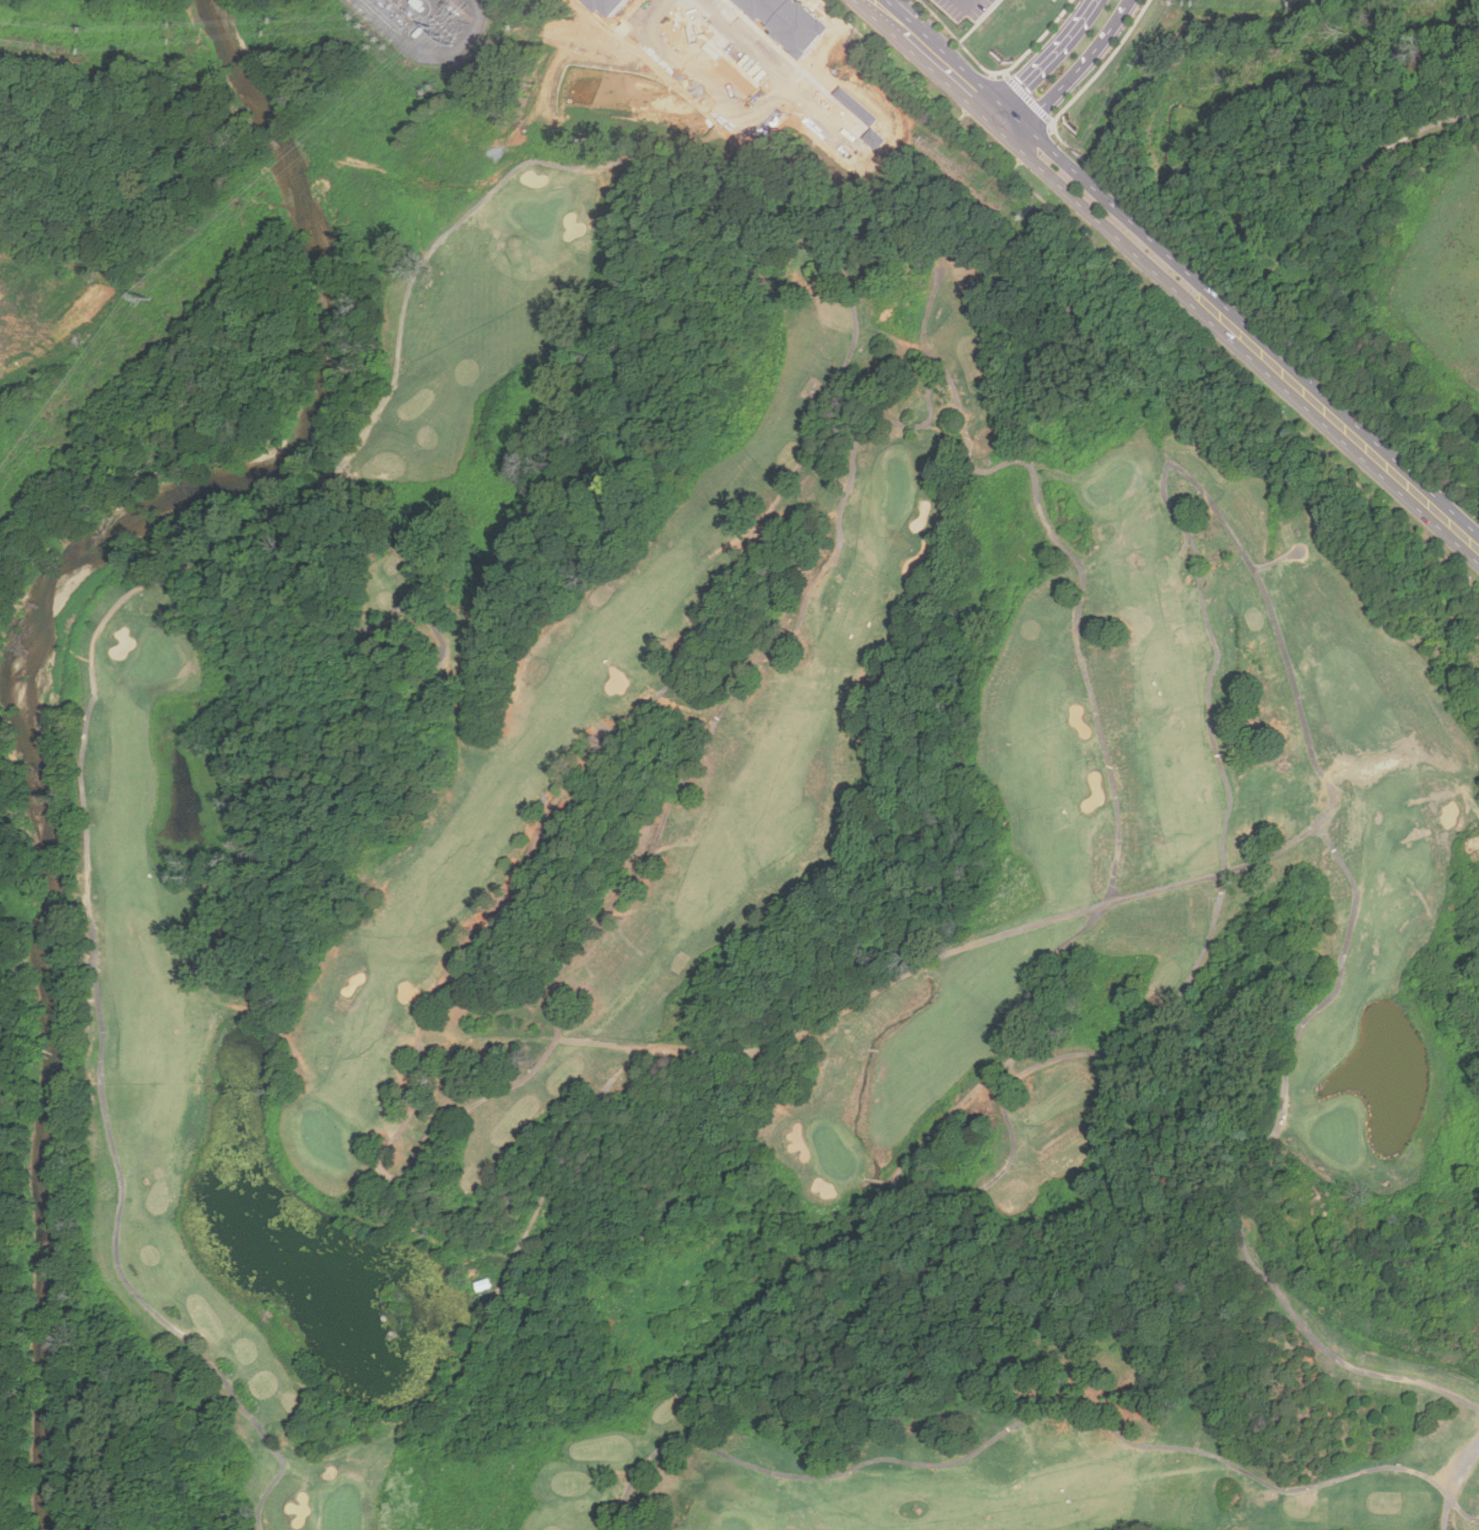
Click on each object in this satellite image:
building: (609, 6)
road: (904, 11)
road: (874, 18)
building: (789, 21)
power substation: (441, 26)
road: (737, 38)
road: (1045, 63)
road: (994, 72)
road: (1075, 74)
road: (942, 78)
road: (697, 86)
road: (1086, 86)
road: (806, 101)
river: (259, 106)
road: (1423, 129)
building: (3, 142)
road: (1327, 159)
road: (1071, 165)
park: (541, 213)
park: (1330, 214)
road: (1101, 221)
road: (848, 371)
road: (1348, 430)
road: (1192, 473)
park: (1112, 485)
park: (897, 489)
road: (1064, 549)
park: (157, 658)
river: (35, 778)
road: (1470, 813)
road: (1120, 814)
park: (765, 907)
road: (940, 959)
road: (1010, 1056)
park: (1335, 1135)
park: (325, 1141)
park: (834, 1154)
road: (417, 1164)
building: (489, 1281)
road: (1030, 1420)
road: (1450, 1484)
park: (341, 1511)
park: (734, 1525)

